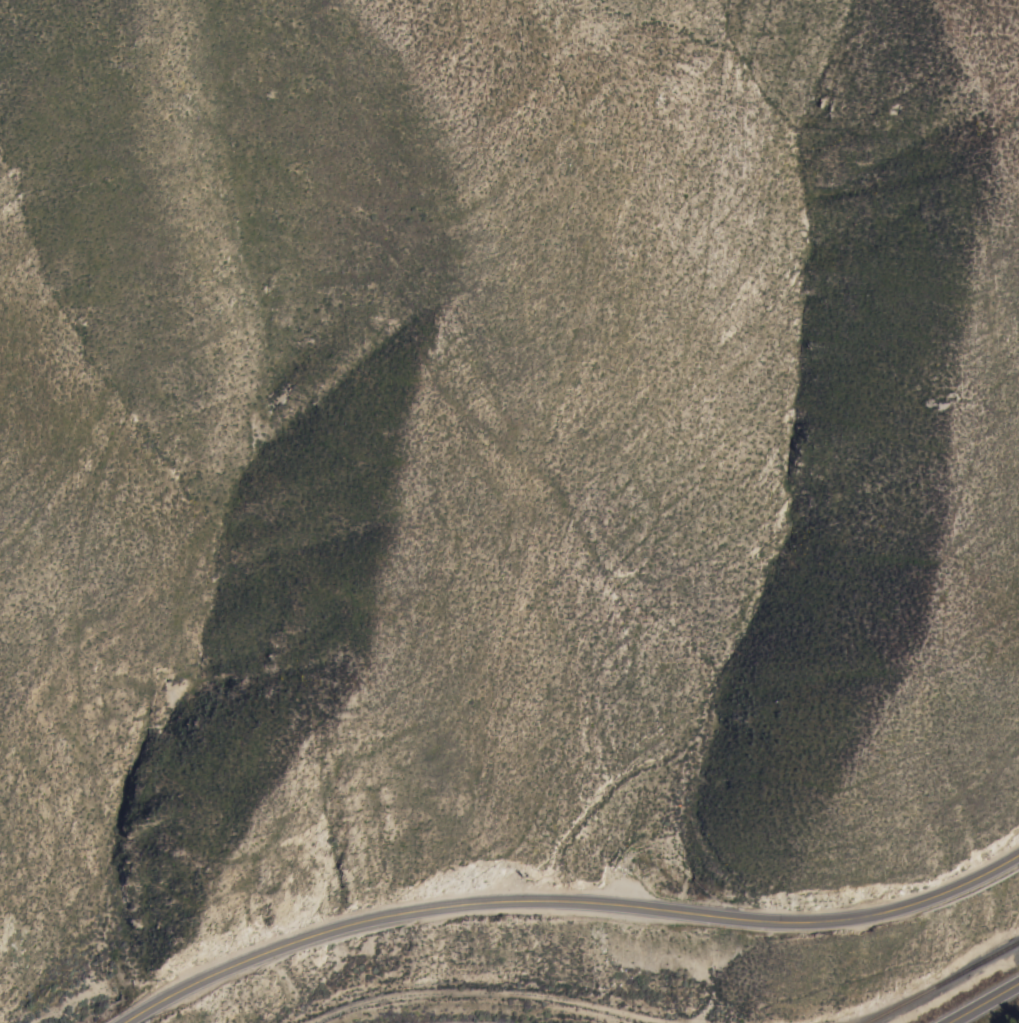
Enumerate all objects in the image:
road: (564, 903)
railway: (942, 982)
road: (985, 1004)

